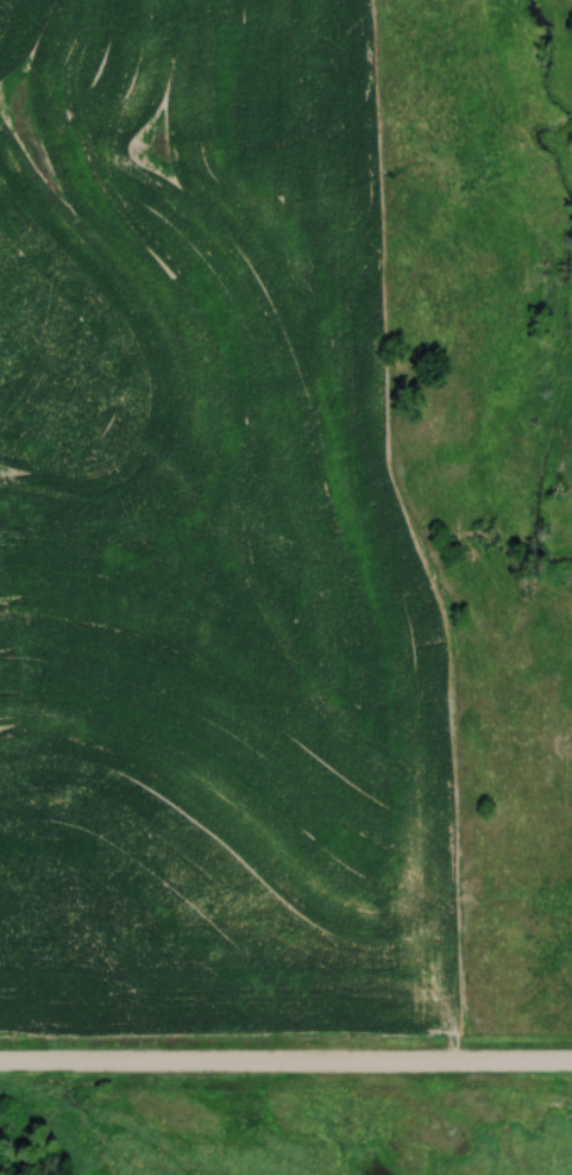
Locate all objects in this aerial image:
road: (285, 1052)

